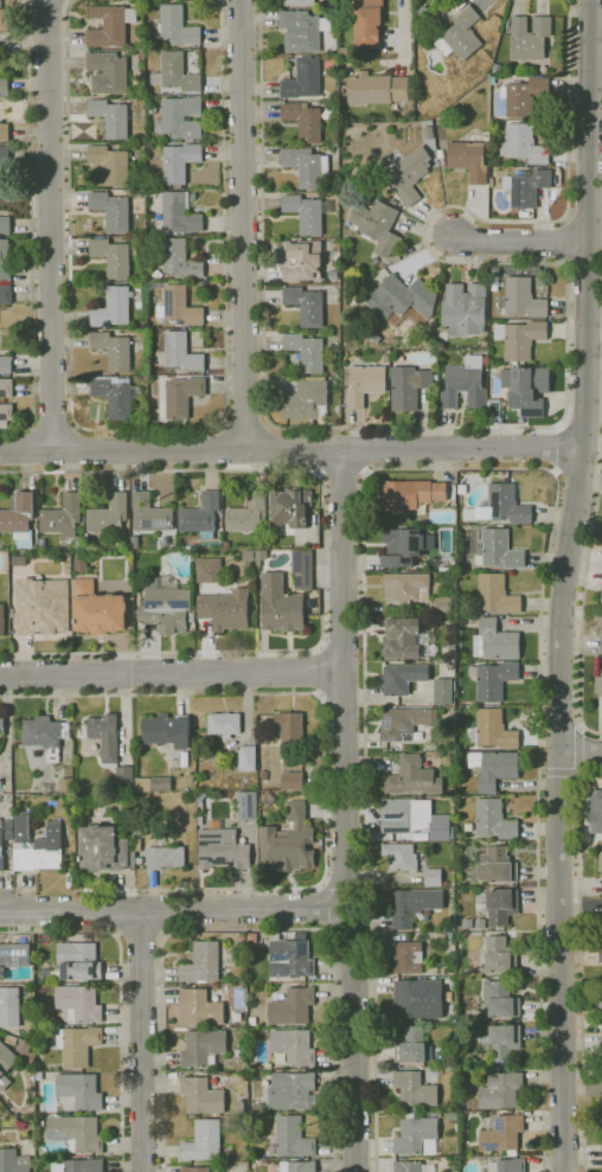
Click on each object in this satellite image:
road: (49, 0)
building: (443, 1)
building: (299, 2)
building: (5, 19)
building: (367, 23)
building: (110, 25)
road: (404, 25)
building: (178, 26)
building: (302, 31)
building: (461, 34)
building: (529, 38)
building: (344, 52)
building: (109, 72)
building: (175, 73)
building: (302, 79)
building: (4, 85)
building: (377, 89)
building: (524, 96)
building: (113, 116)
building: (180, 119)
building: (305, 121)
building: (5, 132)
building: (524, 143)
building: (5, 155)
building: (135, 156)
building: (441, 158)
building: (469, 160)
building: (110, 164)
building: (177, 164)
building: (307, 166)
building: (410, 174)
building: (525, 186)
building: (111, 211)
building: (307, 212)
building: (180, 214)
road: (582, 217)
road: (243, 223)
road: (51, 224)
building: (5, 225)
building: (378, 226)
road: (30, 228)
road: (519, 242)
building: (113, 257)
building: (1, 261)
building: (178, 261)
building: (303, 261)
road: (583, 265)
building: (6, 295)
building: (518, 296)
building: (401, 301)
building: (306, 306)
building: (179, 307)
building: (113, 308)
building: (465, 309)
building: (520, 338)
building: (114, 350)
building: (306, 351)
building: (181, 352)
building: (6, 364)
building: (365, 384)
building: (465, 384)
building: (408, 386)
building: (6, 388)
building: (526, 389)
building: (115, 396)
building: (181, 396)
building: (307, 398)
building: (6, 411)
building: (493, 412)
road: (245, 423)
road: (53, 425)
road: (547, 425)
road: (582, 425)
road: (149, 429)
road: (267, 447)
road: (318, 447)
road: (73, 448)
road: (225, 448)
road: (559, 448)
road: (26, 450)
road: (321, 450)
road: (361, 451)
road: (462, 468)
road: (342, 475)
road: (578, 475)
building: (462, 488)
building: (438, 492)
building: (404, 494)
building: (500, 506)
building: (290, 507)
building: (150, 513)
building: (200, 513)
building: (249, 513)
building: (109, 514)
building: (63, 517)
building: (19, 519)
building: (166, 542)
building: (405, 542)
building: (41, 543)
building: (79, 544)
building: (499, 550)
building: (261, 556)
road: (324, 562)
building: (302, 569)
building: (207, 570)
road: (564, 584)
building: (406, 585)
building: (497, 594)
road: (584, 603)
building: (280, 604)
building: (41, 606)
building: (166, 606)
building: (444, 606)
building: (97, 609)
building: (225, 609)
building: (1, 620)
building: (403, 639)
building: (495, 641)
building: (601, 643)
road: (342, 647)
road: (316, 670)
road: (171, 672)
building: (403, 678)
building: (494, 680)
building: (598, 685)
building: (443, 691)
road: (196, 694)
road: (344, 700)
building: (405, 722)
building: (1, 724)
building: (224, 724)
building: (290, 728)
building: (494, 729)
building: (166, 730)
building: (45, 735)
building: (105, 736)
road: (579, 752)
building: (248, 757)
building: (294, 758)
building: (494, 768)
building: (124, 774)
building: (263, 775)
building: (414, 777)
building: (292, 781)
building: (161, 783)
building: (65, 784)
building: (142, 784)
building: (45, 787)
building: (200, 795)
building: (140, 798)
building: (246, 805)
road: (345, 809)
building: (414, 818)
building: (494, 819)
building: (598, 820)
building: (139, 833)
building: (177, 837)
building: (288, 841)
building: (104, 848)
building: (45, 850)
building: (222, 850)
building: (1, 853)
building: (401, 856)
building: (166, 858)
building: (600, 862)
building: (495, 865)
building: (433, 877)
building: (153, 879)
building: (414, 905)
building: (501, 905)
road: (172, 909)
building: (480, 923)
building: (600, 928)
road: (248, 929)
road: (352, 934)
road: (140, 935)
building: (241, 937)
building: (600, 953)
building: (500, 955)
building: (13, 956)
building: (289, 958)
building: (408, 958)
building: (231, 960)
building: (79, 961)
building: (203, 962)
road: (583, 963)
road: (121, 994)
building: (418, 999)
building: (500, 999)
building: (600, 1001)
building: (79, 1003)
building: (293, 1006)
building: (9, 1007)
building: (200, 1007)
building: (237, 1017)
building: (252, 1022)
building: (11, 1039)
road: (142, 1040)
building: (501, 1042)
building: (412, 1044)
building: (601, 1044)
building: (25, 1045)
building: (78, 1045)
building: (203, 1048)
building: (293, 1048)
building: (6, 1058)
building: (39, 1075)
building: (415, 1089)
building: (500, 1090)
building: (292, 1091)
building: (78, 1093)
building: (201, 1095)
building: (601, 1106)
building: (435, 1114)
building: (76, 1132)
building: (502, 1133)
building: (417, 1135)
building: (293, 1136)
building: (204, 1140)
building: (273, 1148)
building: (13, 1161)
building: (78, 1165)
building: (507, 1165)
building: (299, 1166)
building: (414, 1166)
building: (193, 1168)

